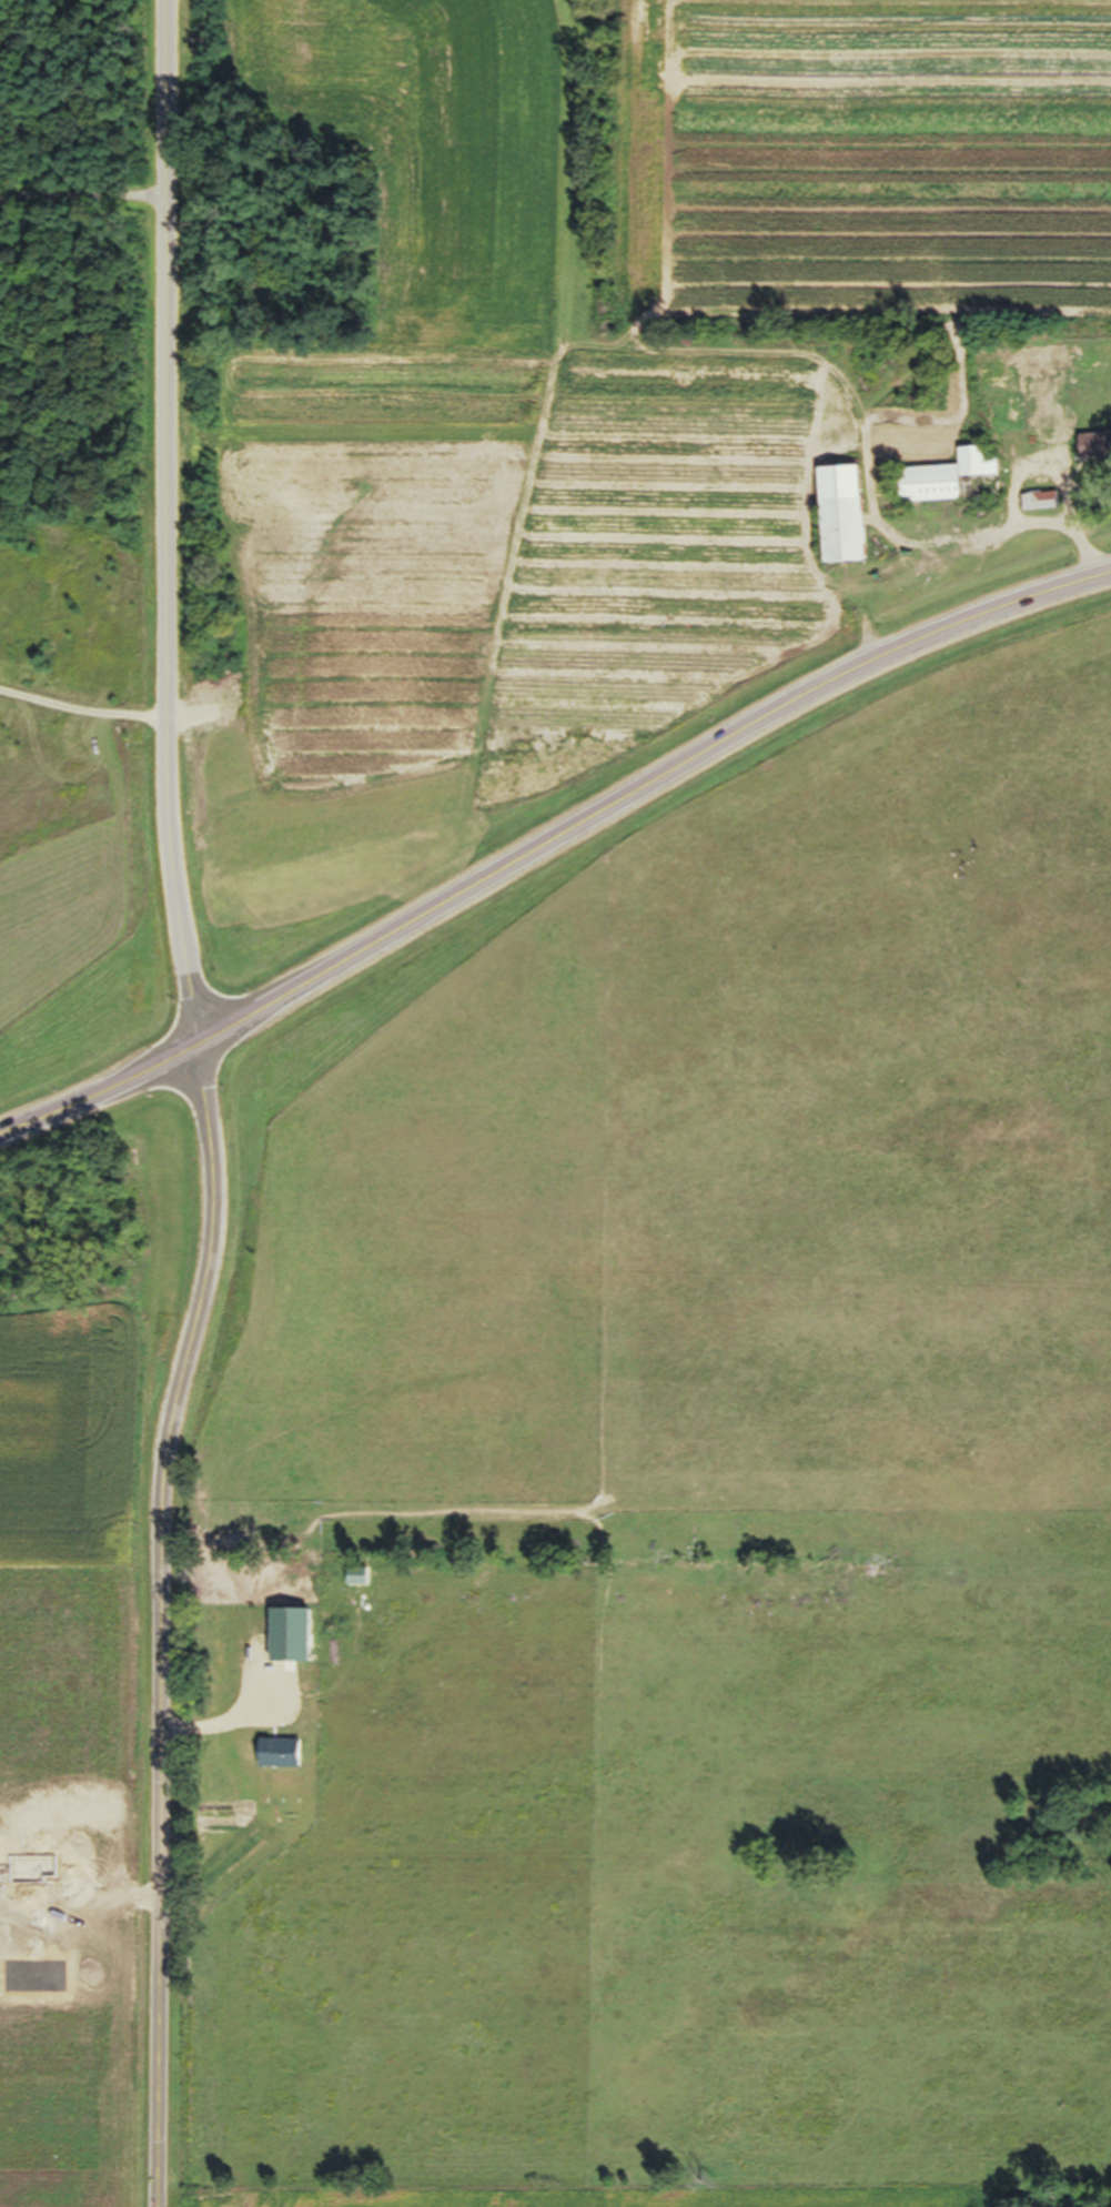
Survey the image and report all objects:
building: (1054, 437)
building: (1095, 451)
building: (953, 486)
building: (845, 536)
road: (83, 711)
road: (548, 842)
road: (206, 1105)

